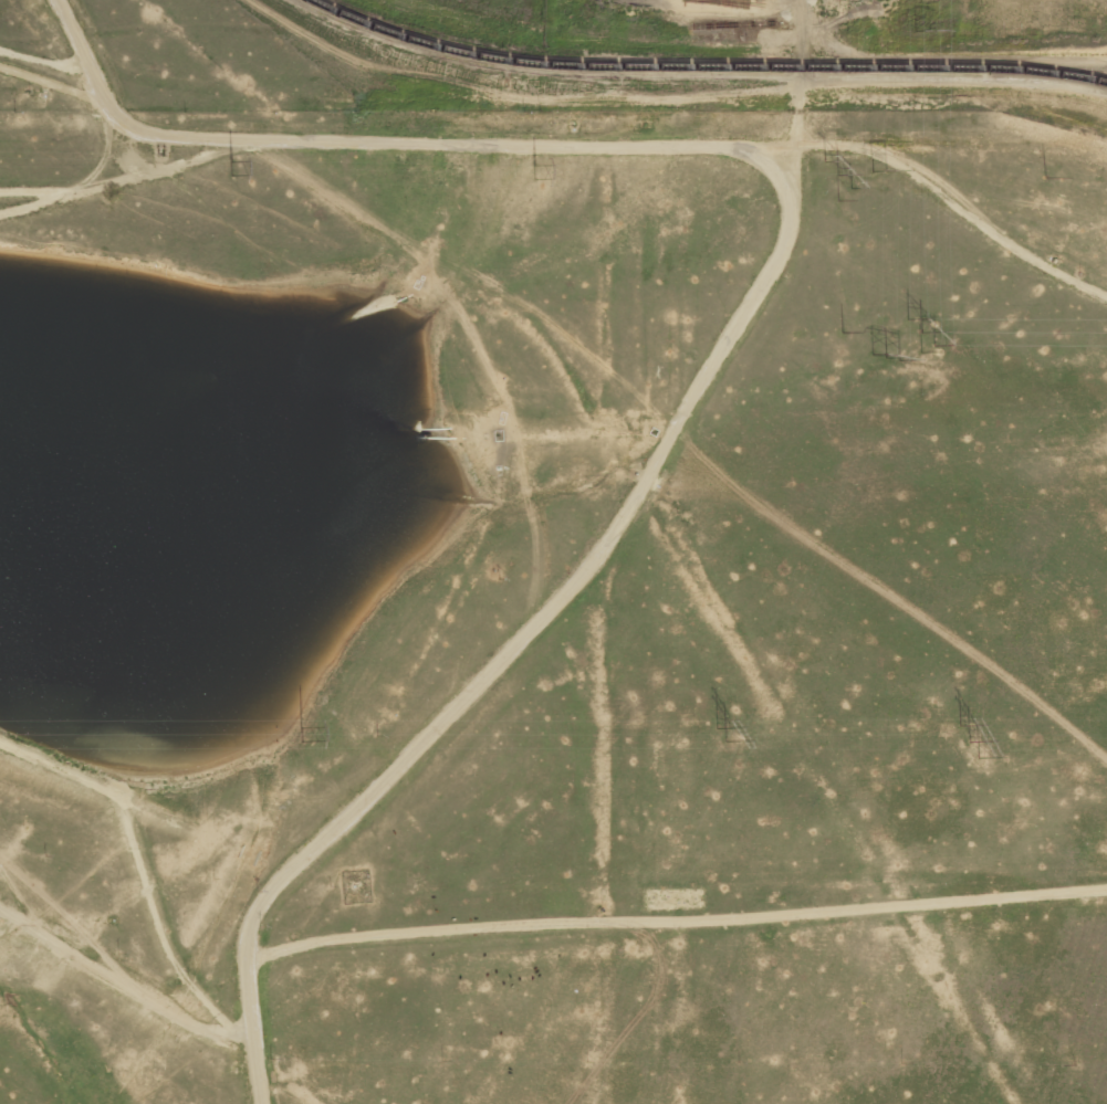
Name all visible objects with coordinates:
power tower: (919, 31)
power plant: (553, 55)
railway: (639, 67)
railway: (1047, 69)
railway: (1047, 73)
power tower: (228, 168)
power tower: (530, 170)
power tower: (876, 171)
power tower: (835, 176)
power tower: (921, 335)
power tower: (883, 356)
power plant: (553, 607)
power tower: (273, 733)
power tower: (718, 733)
power tower: (967, 742)

